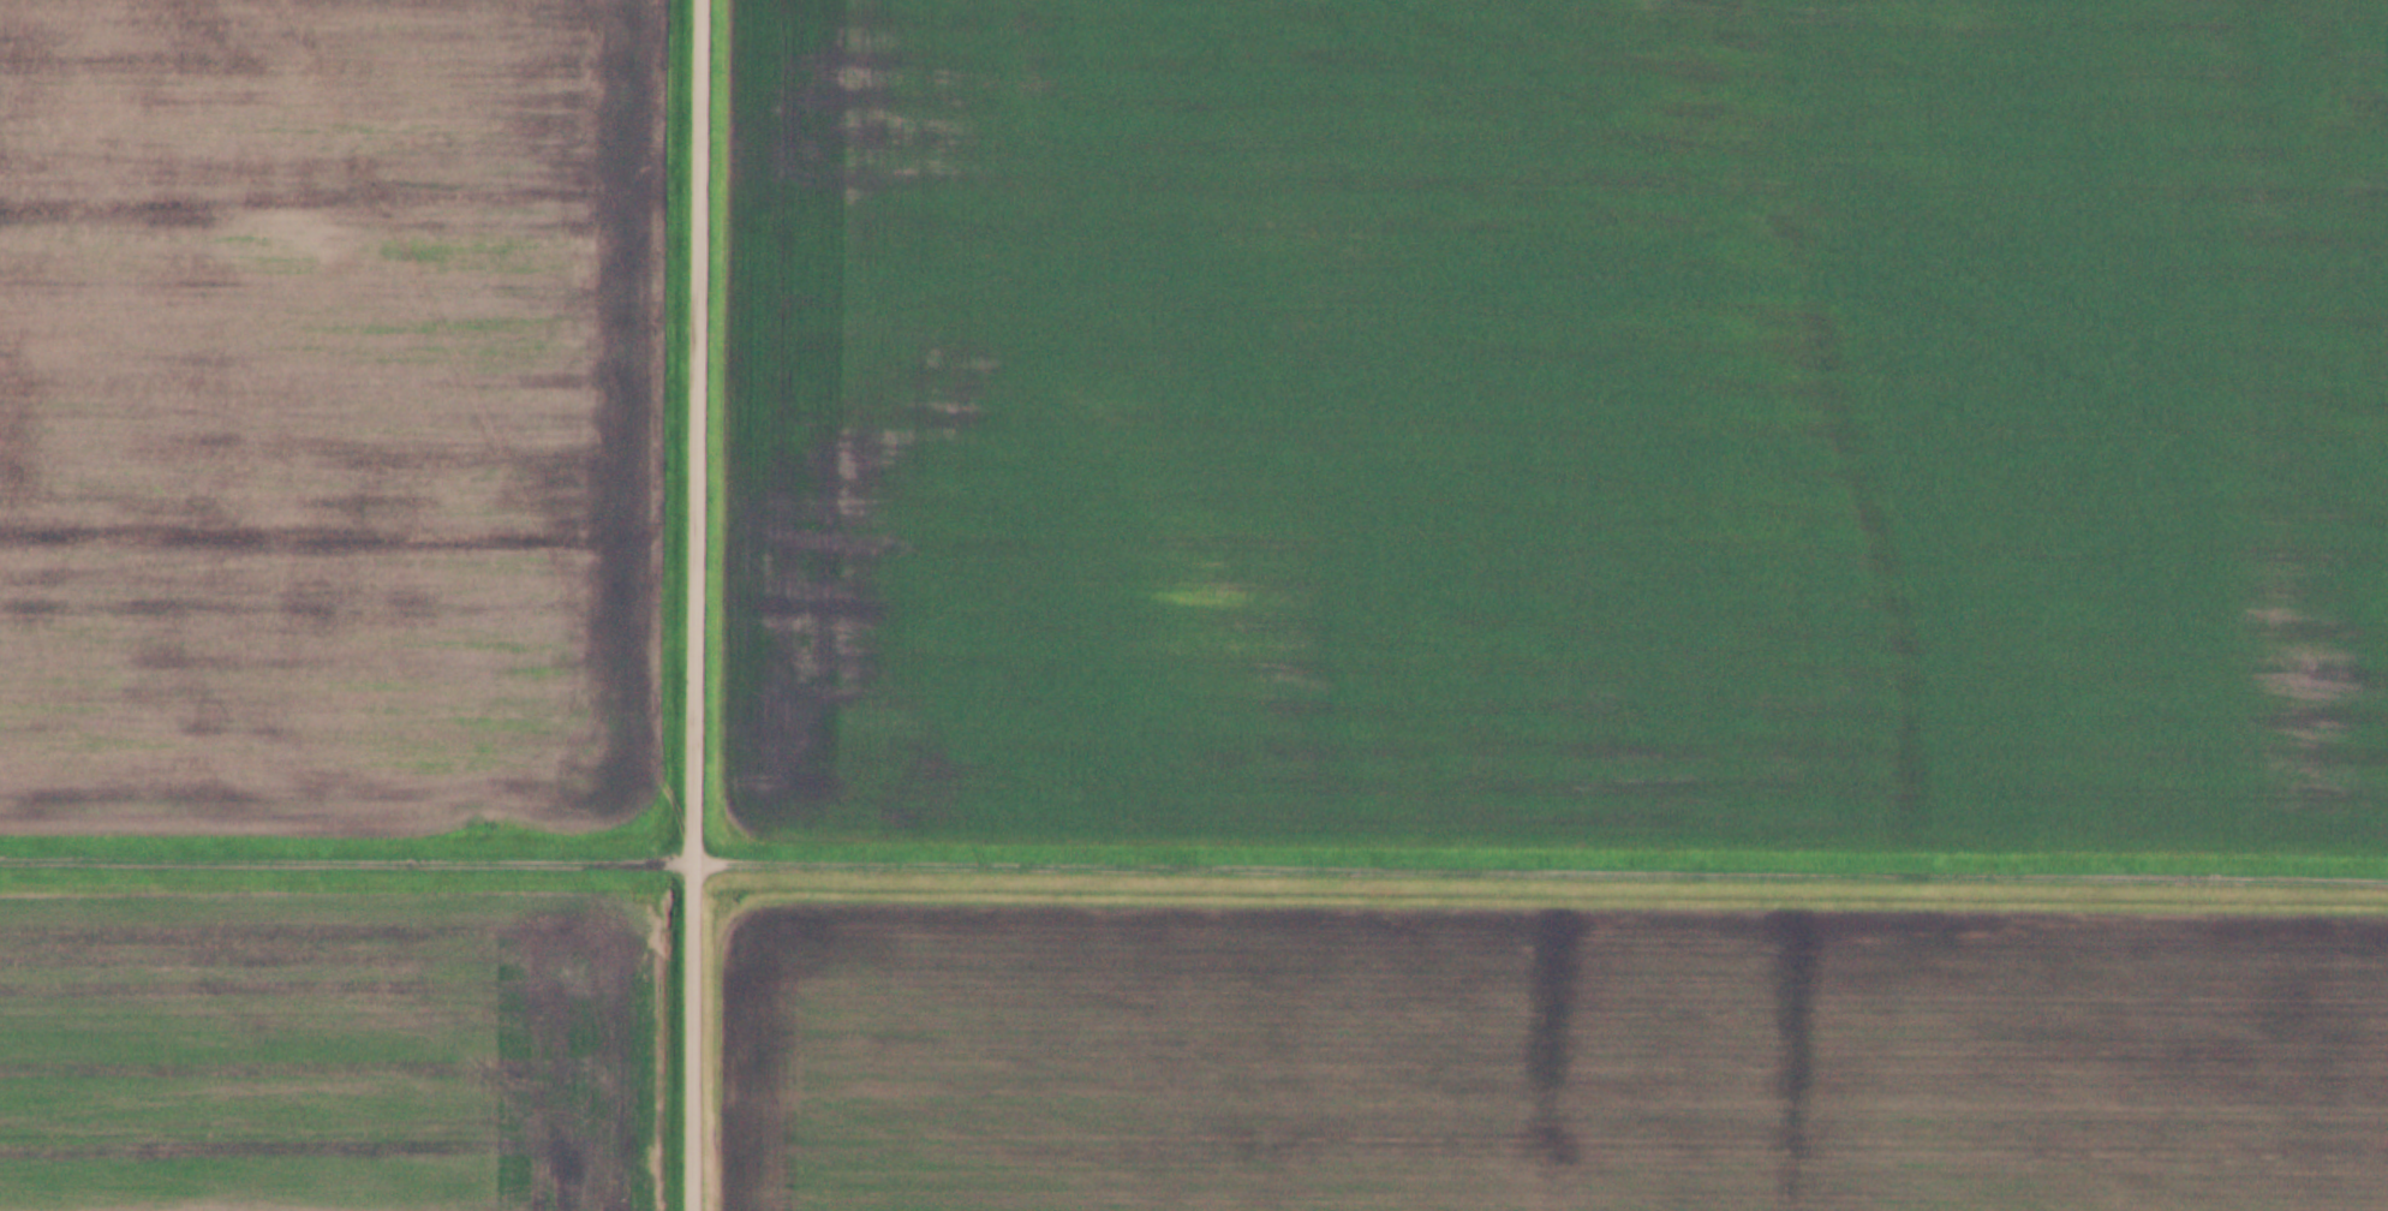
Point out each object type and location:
road: (695, 604)
road: (346, 861)
road: (1540, 867)

